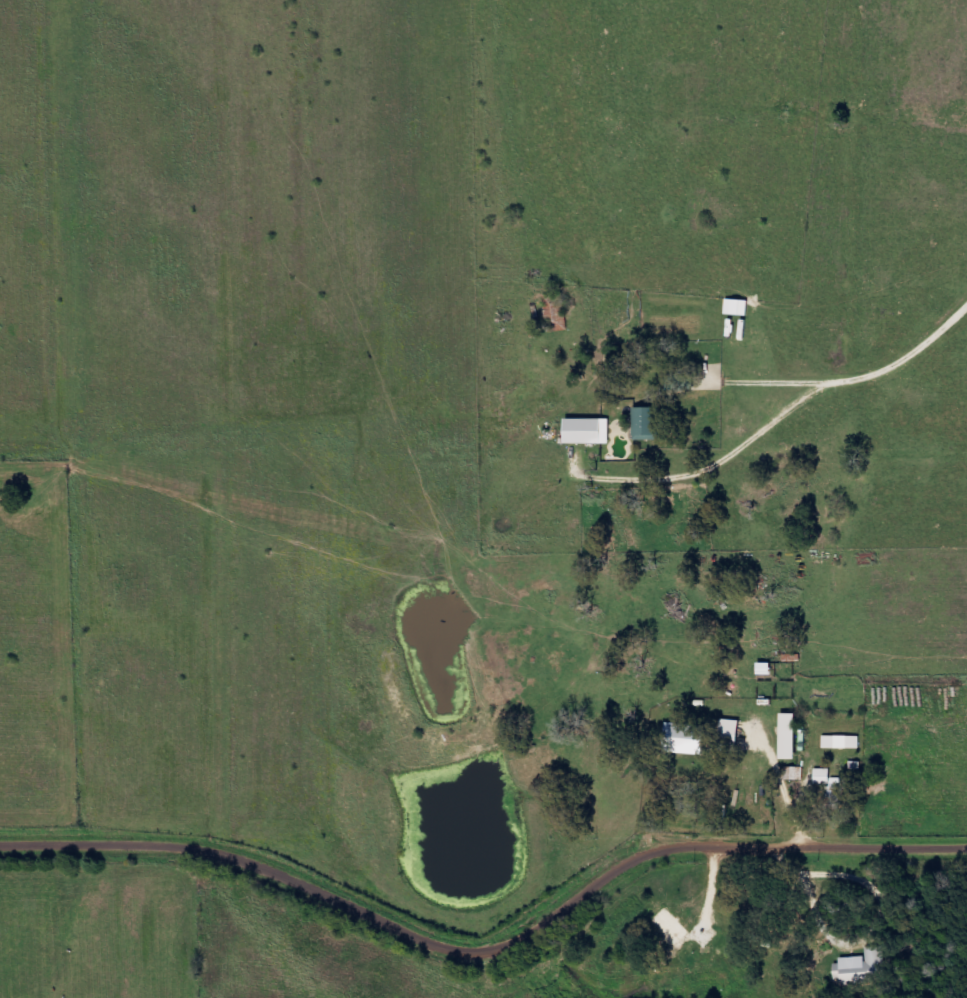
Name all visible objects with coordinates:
building: (737, 307)
building: (558, 310)
building: (646, 425)
building: (586, 431)
road: (711, 652)
building: (728, 730)
building: (786, 736)
building: (683, 739)
building: (841, 742)
building: (794, 773)
building: (835, 785)
building: (670, 926)
road: (487, 948)
building: (861, 967)

